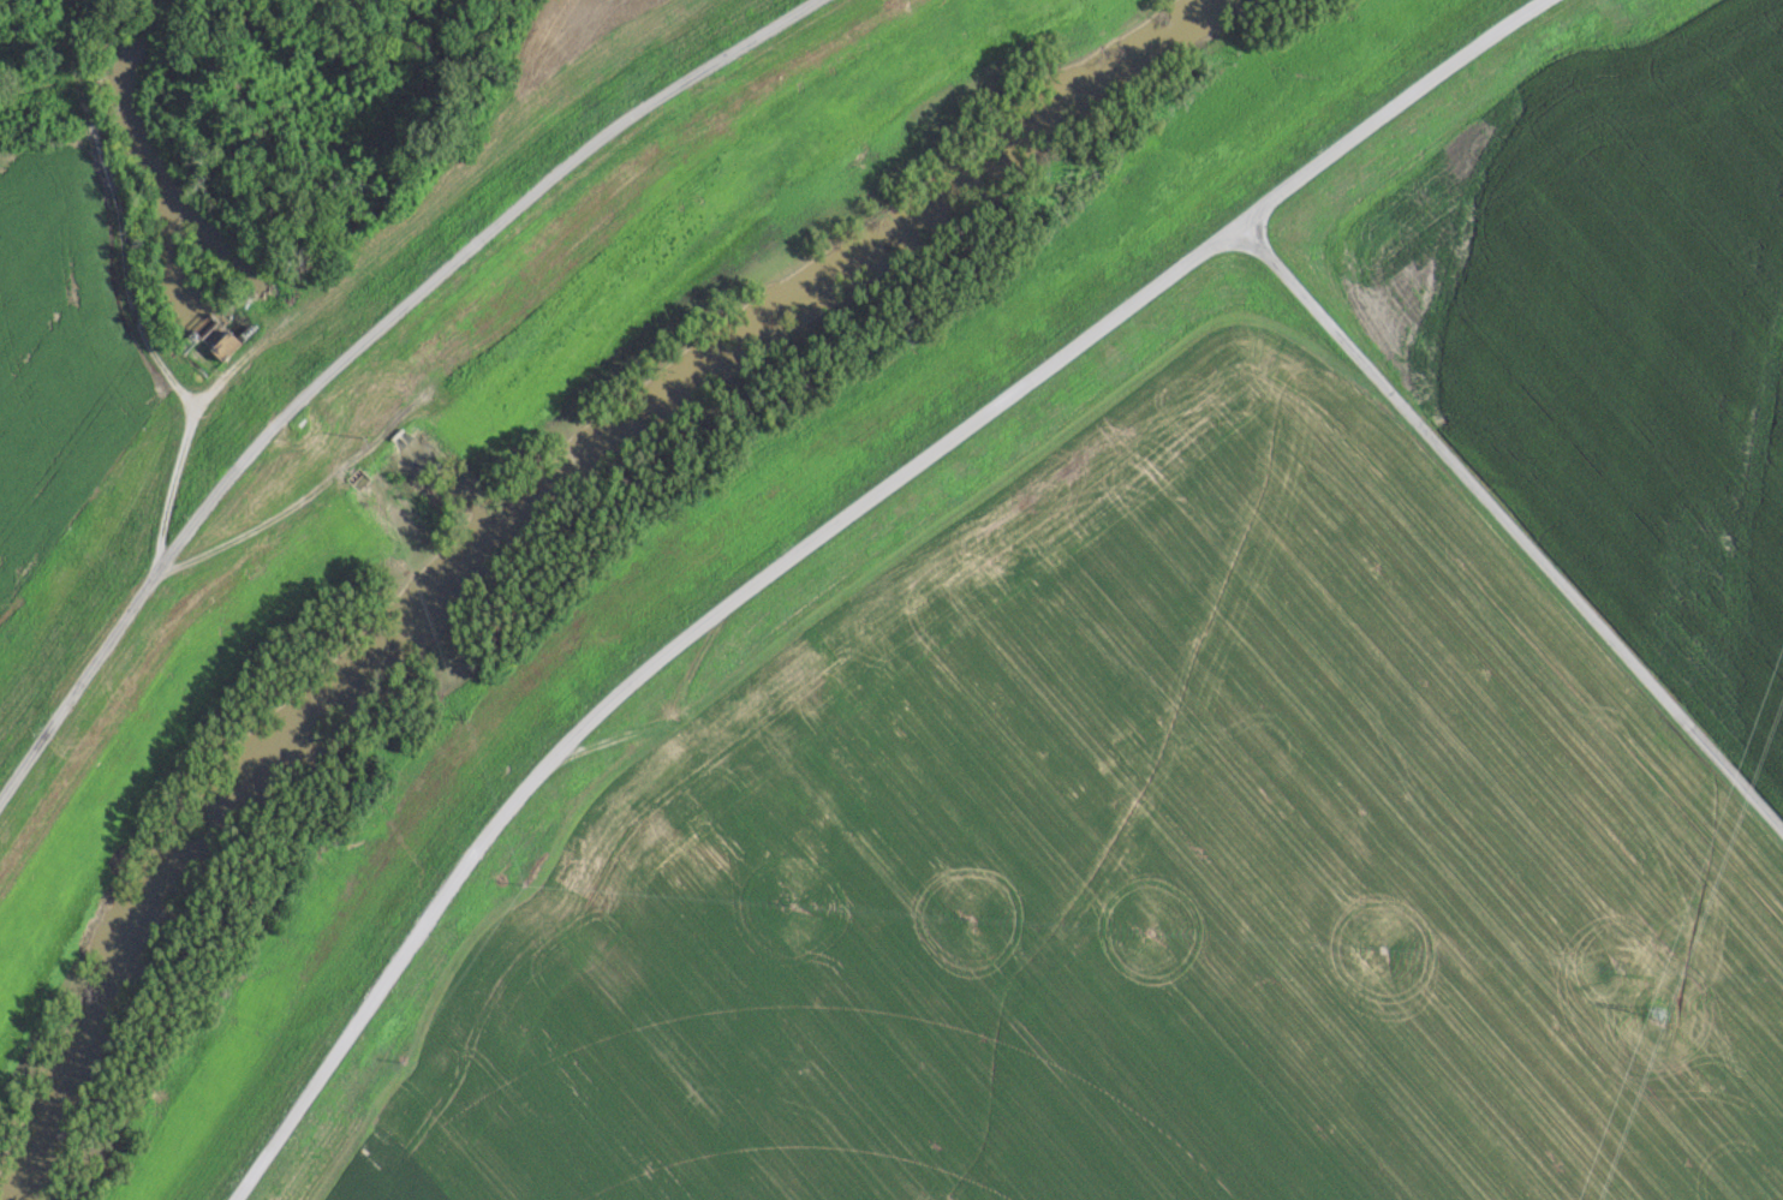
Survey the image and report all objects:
road: (354, 344)
road: (180, 453)
road: (1508, 527)
road: (815, 530)
power tower: (1660, 1007)

